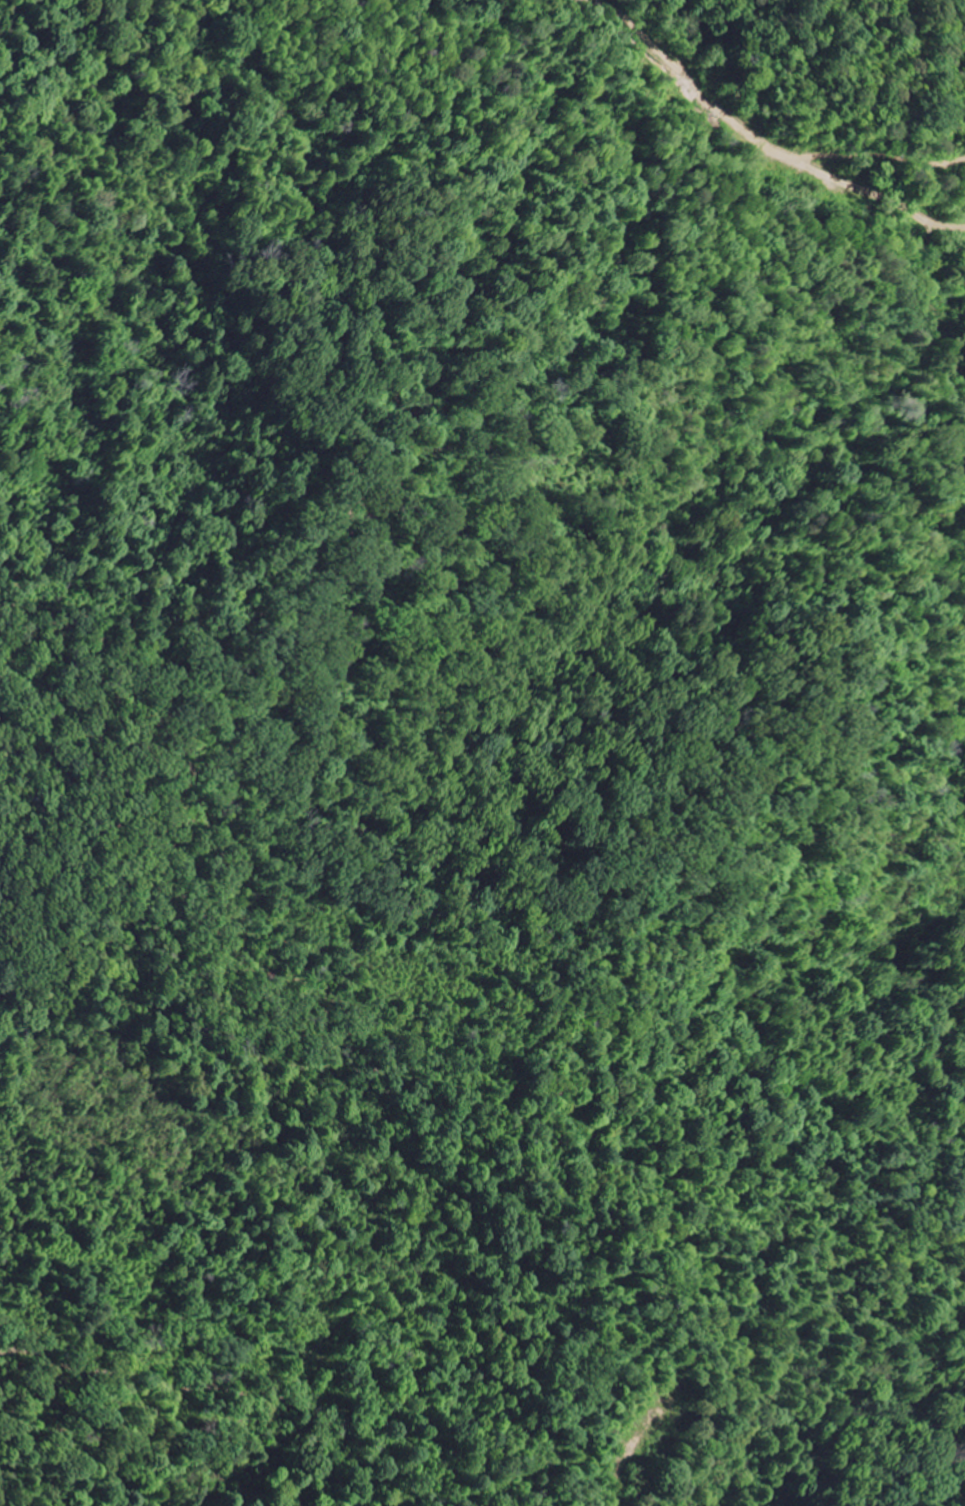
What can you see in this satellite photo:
road: (772, 116)

